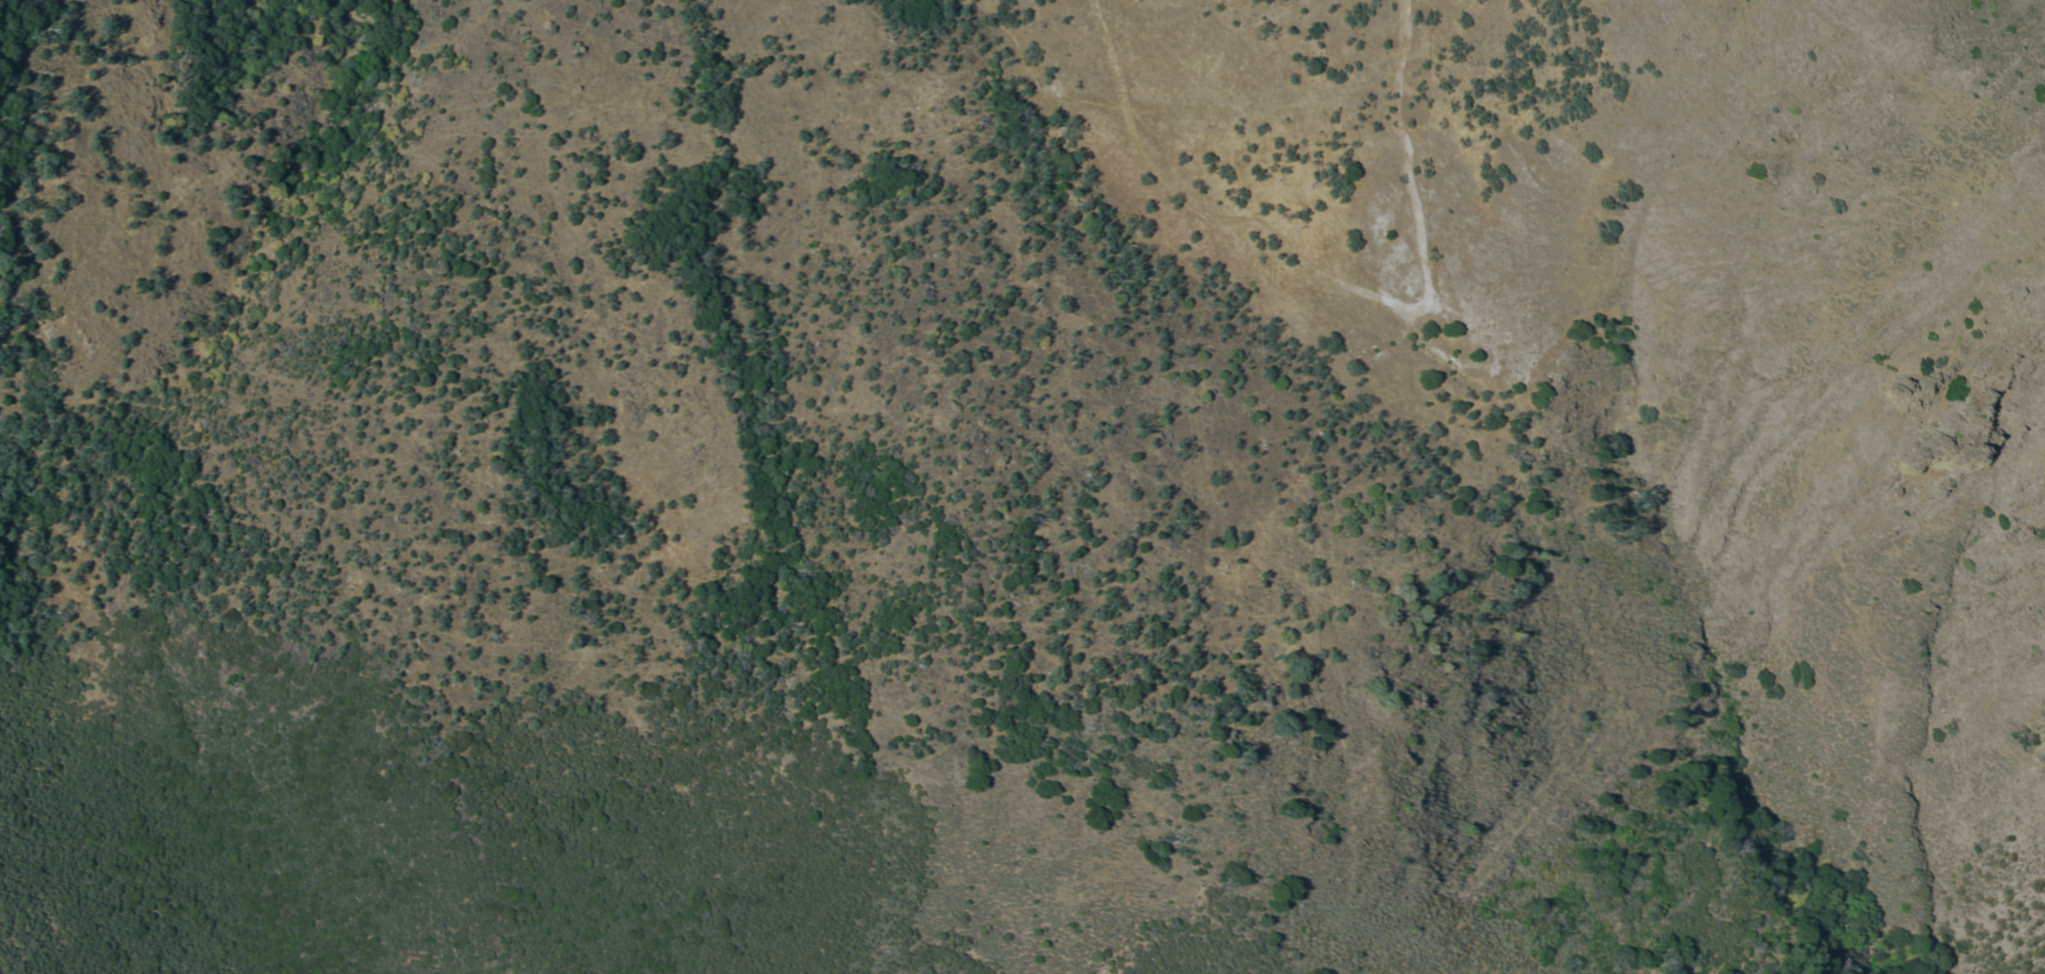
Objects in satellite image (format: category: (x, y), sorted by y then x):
road: (1160, 175)
road: (1413, 204)

